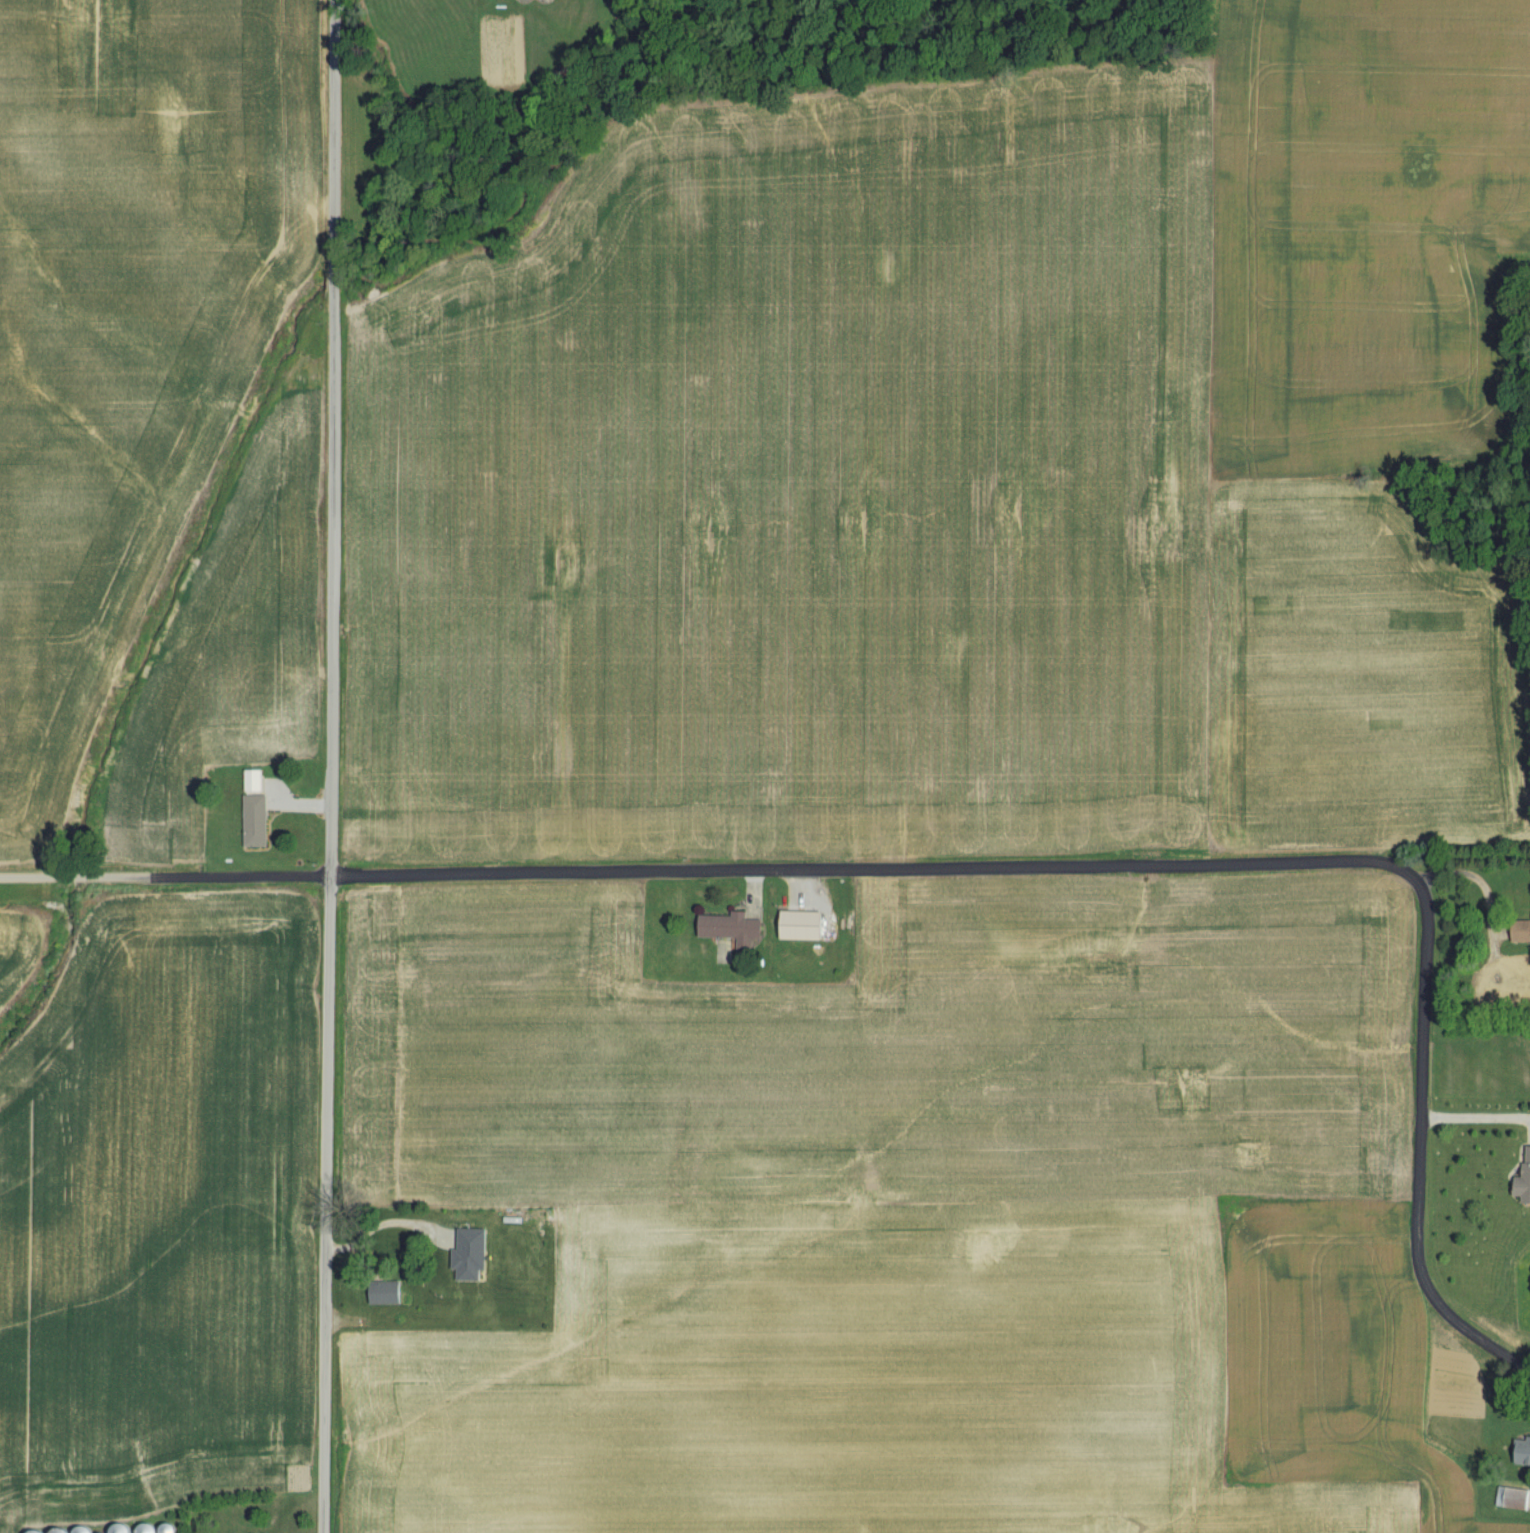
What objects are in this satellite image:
road: (330, 439)
building: (258, 811)
road: (897, 873)
road: (1483, 890)
building: (797, 927)
building: (728, 930)
road: (1473, 1115)
building: (1522, 1176)
road: (320, 1205)
road: (383, 1226)
building: (397, 1238)
building: (388, 1294)
road: (1458, 1328)
building: (1516, 1506)

